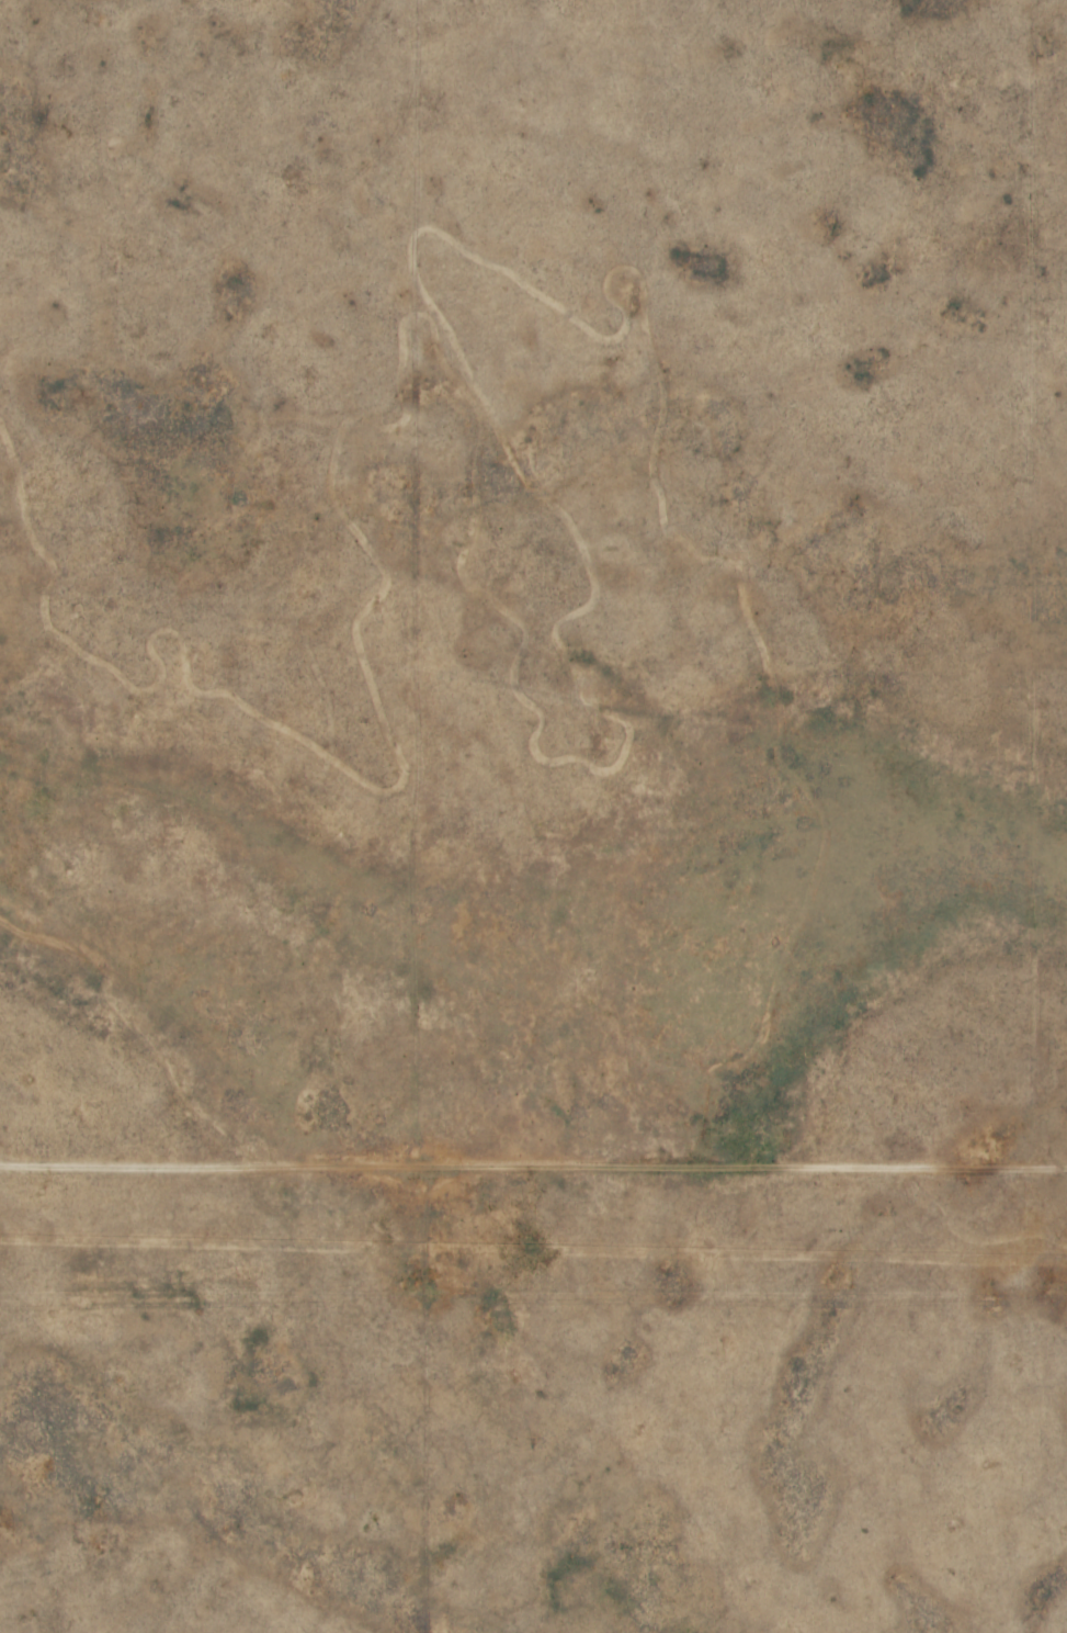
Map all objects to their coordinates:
road: (533, 1110)

